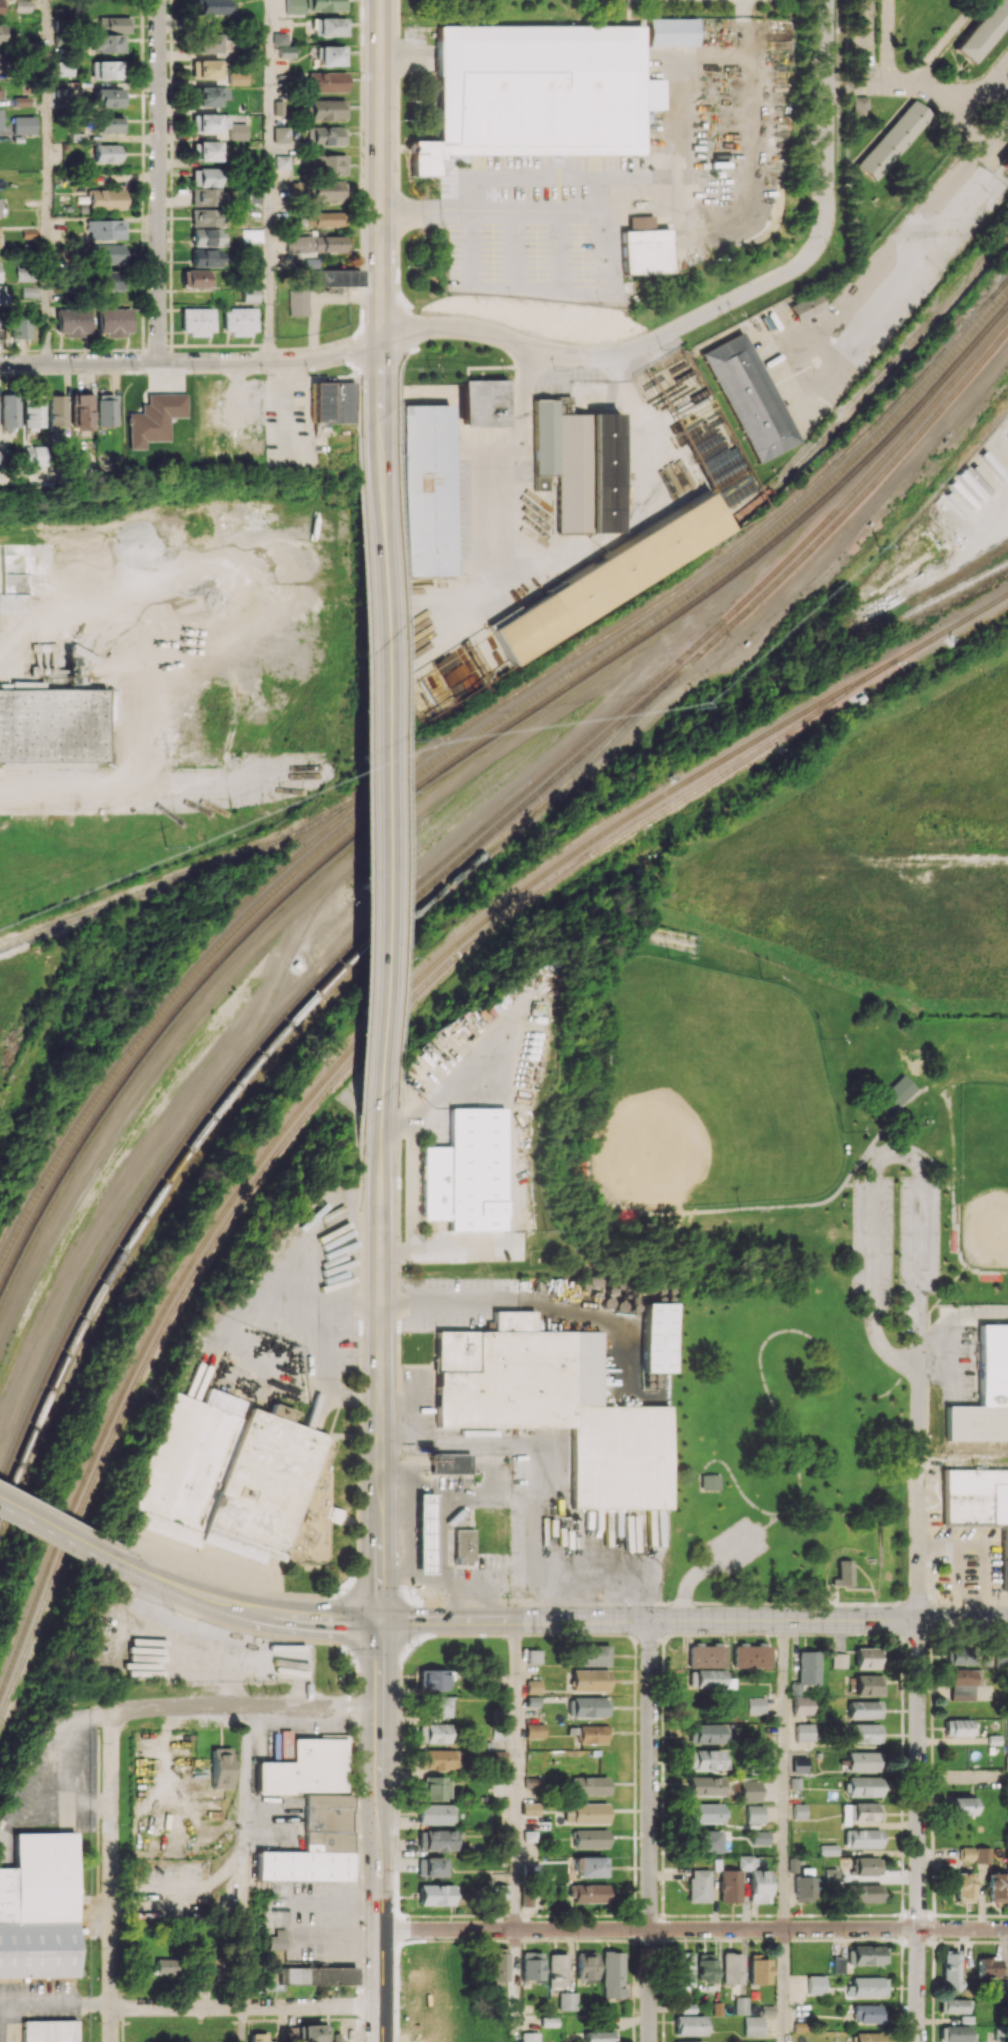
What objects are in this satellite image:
building: (326, 5)
building: (293, 6)
building: (211, 7)
park: (515, 10)
building: (114, 24)
building: (329, 26)
building: (983, 31)
building: (671, 32)
building: (1, 34)
building: (279, 38)
building: (207, 43)
road: (943, 43)
building: (106, 44)
building: (286, 51)
building: (330, 55)
building: (1, 62)
building: (64, 67)
building: (107, 69)
building: (204, 69)
road: (885, 72)
building: (235, 78)
building: (326, 82)
road: (982, 86)
building: (538, 91)
building: (62, 93)
building: (0, 94)
building: (206, 96)
building: (108, 97)
building: (278, 107)
building: (326, 109)
building: (859, 109)
road: (954, 111)
road: (826, 119)
building: (208, 123)
building: (109, 124)
building: (23, 125)
building: (236, 131)
building: (280, 134)
building: (325, 135)
building: (890, 140)
building: (204, 151)
building: (105, 153)
building: (282, 161)
building: (328, 164)
building: (1004, 165)
building: (204, 177)
road: (159, 180)
road: (270, 180)
road: (382, 180)
road: (46, 181)
building: (322, 191)
building: (204, 197)
building: (106, 199)
road: (491, 207)
building: (204, 217)
building: (328, 218)
building: (306, 219)
building: (105, 229)
building: (205, 237)
building: (314, 243)
building: (644, 247)
building: (107, 253)
building: (206, 257)
building: (25, 272)
building: (333, 277)
building: (195, 278)
building: (110, 280)
railway: (999, 289)
building: (2, 295)
building: (248, 295)
building: (298, 302)
building: (806, 306)
building: (197, 320)
building: (238, 320)
building: (73, 321)
building: (114, 321)
building: (19, 325)
road: (192, 360)
road: (618, 361)
railway: (873, 381)
building: (749, 398)
road: (284, 401)
building: (483, 403)
building: (104, 409)
building: (9, 410)
building: (81, 410)
building: (56, 411)
building: (33, 412)
building: (153, 418)
building: (579, 466)
building: (428, 490)
road: (849, 526)
railway: (825, 535)
road: (547, 562)
building: (611, 579)
railway: (952, 588)
railway: (950, 625)
building: (857, 697)
railway: (467, 723)
building: (53, 725)
road: (381, 733)
railway: (464, 745)
railway: (461, 756)
road: (74, 781)
railway: (315, 828)
railway: (258, 847)
railway: (444, 861)
railway: (194, 874)
railway: (290, 1040)
railway: (246, 1073)
road: (973, 1076)
railway: (327, 1078)
park: (709, 1090)
railway: (326, 1091)
building: (894, 1091)
road: (899, 1109)
road: (951, 1130)
road: (916, 1149)
building: (467, 1172)
park: (983, 1175)
road: (412, 1183)
road: (953, 1201)
road: (774, 1207)
road: (874, 1209)
park: (776, 1212)
road: (921, 1234)
parking lot: (897, 1241)
road: (942, 1294)
road: (464, 1300)
road: (921, 1330)
building: (655, 1337)
road: (764, 1341)
road: (913, 1342)
road: (319, 1348)
road: (884, 1350)
building: (984, 1392)
building: (555, 1406)
road: (964, 1462)
building: (450, 1463)
building: (235, 1478)
building: (710, 1481)
road: (736, 1484)
road: (920, 1493)
building: (978, 1502)
road: (56, 1514)
road: (766, 1523)
road: (55, 1528)
road: (442, 1528)
building: (424, 1533)
parking lot: (736, 1544)
building: (463, 1546)
road: (736, 1546)
road: (984, 1557)
road: (599, 1567)
road: (956, 1572)
road: (379, 1573)
road: (411, 1573)
building: (844, 1573)
road: (688, 1582)
road: (257, 1588)
road: (239, 1609)
road: (693, 1620)
traffic signals: (379, 1621)
building: (591, 1655)
building: (961, 1655)
building: (533, 1656)
building: (706, 1656)
building: (750, 1656)
building: (868, 1657)
building: (838, 1660)
building: (808, 1667)
building: (431, 1679)
building: (708, 1679)
building: (589, 1680)
building: (963, 1683)
building: (868, 1685)
building: (533, 1686)
building: (795, 1689)
building: (756, 1705)
building: (801, 1705)
building: (435, 1706)
building: (587, 1706)
road: (245, 1709)
building: (864, 1709)
building: (500, 1724)
building: (959, 1727)
building: (534, 1731)
building: (803, 1732)
building: (432, 1733)
building: (866, 1733)
building: (591, 1734)
building: (707, 1734)
building: (436, 1759)
building: (706, 1759)
building: (864, 1761)
building: (799, 1765)
building: (221, 1768)
building: (305, 1768)
road: (515, 1774)
road: (650, 1774)
road: (783, 1774)
road: (963, 1777)
building: (589, 1785)
building: (704, 1786)
building: (864, 1786)
building: (434, 1788)
building: (750, 1791)
building: (961, 1806)
building: (530, 1808)
building: (798, 1811)
building: (703, 1812)
building: (861, 1812)
building: (585, 1813)
building: (755, 1813)
building: (435, 1814)
road: (918, 1830)
building: (530, 1836)
building: (760, 1837)
building: (589, 1838)
building: (863, 1838)
building: (435, 1840)
building: (706, 1841)
building: (315, 1844)
building: (828, 1850)
building: (967, 1853)
building: (983, 1855)
road: (243, 1859)
building: (430, 1866)
building: (590, 1866)
building: (867, 1866)
building: (532, 1870)
building: (831, 1874)
road: (113, 1877)
building: (755, 1880)
building: (698, 1885)
building: (803, 1885)
building: (729, 1886)
building: (964, 1887)
building: (997, 1887)
building: (499, 1891)
building: (588, 1893)
building: (864, 1893)
building: (434, 1894)
building: (39, 1907)
road: (963, 1928)
road: (648, 1929)
building: (276, 1940)
building: (868, 1954)
building: (838, 1964)
building: (499, 1965)
building: (531, 1965)
building: (585, 1965)
building: (167, 1966)
building: (216, 1966)
building: (705, 1967)
building: (988, 1967)
building: (731, 1968)
building: (682, 1969)
building: (951, 1969)
building: (557, 1970)
building: (759, 1971)
building: (611, 1974)
building: (316, 1975)
building: (815, 1984)
road: (514, 1985)
road: (650, 1985)
road: (783, 1985)
building: (867, 1987)
building: (567, 2000)
road: (39, 2001)
building: (741, 2005)
building: (954, 2005)
road: (246, 2009)
building: (867, 2013)
road: (243, 2025)
building: (689, 2025)
building: (753, 2025)
building: (50, 2031)
building: (286, 2033)
building: (311, 2033)
building: (954, 2033)
building: (600, 2036)
building: (257, 2037)
building: (529, 2037)
building: (868, 2037)
building: (689, 2041)
building: (757, 2041)

